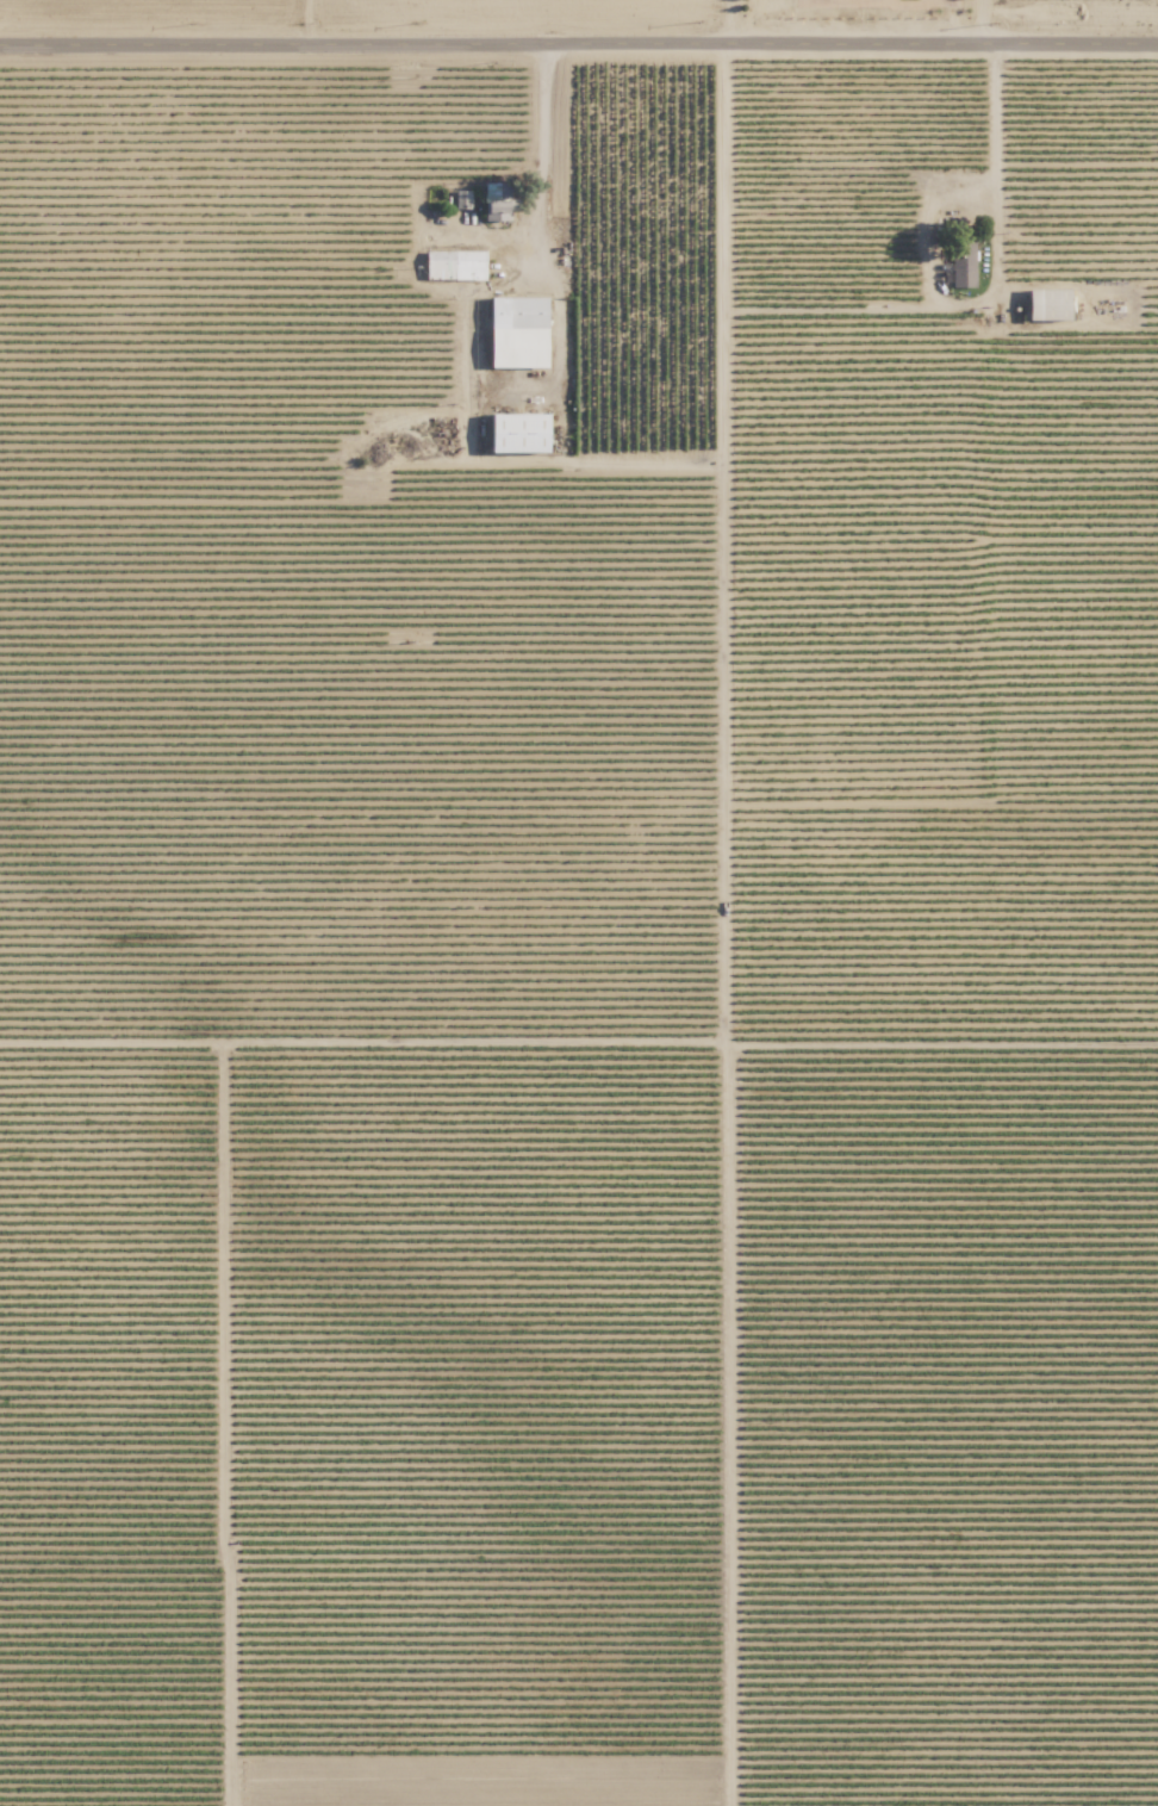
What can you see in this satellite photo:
road: (983, 21)
road: (579, 43)
road: (548, 154)
building: (502, 201)
building: (959, 262)
building: (456, 265)
building: (522, 331)
building: (522, 433)

